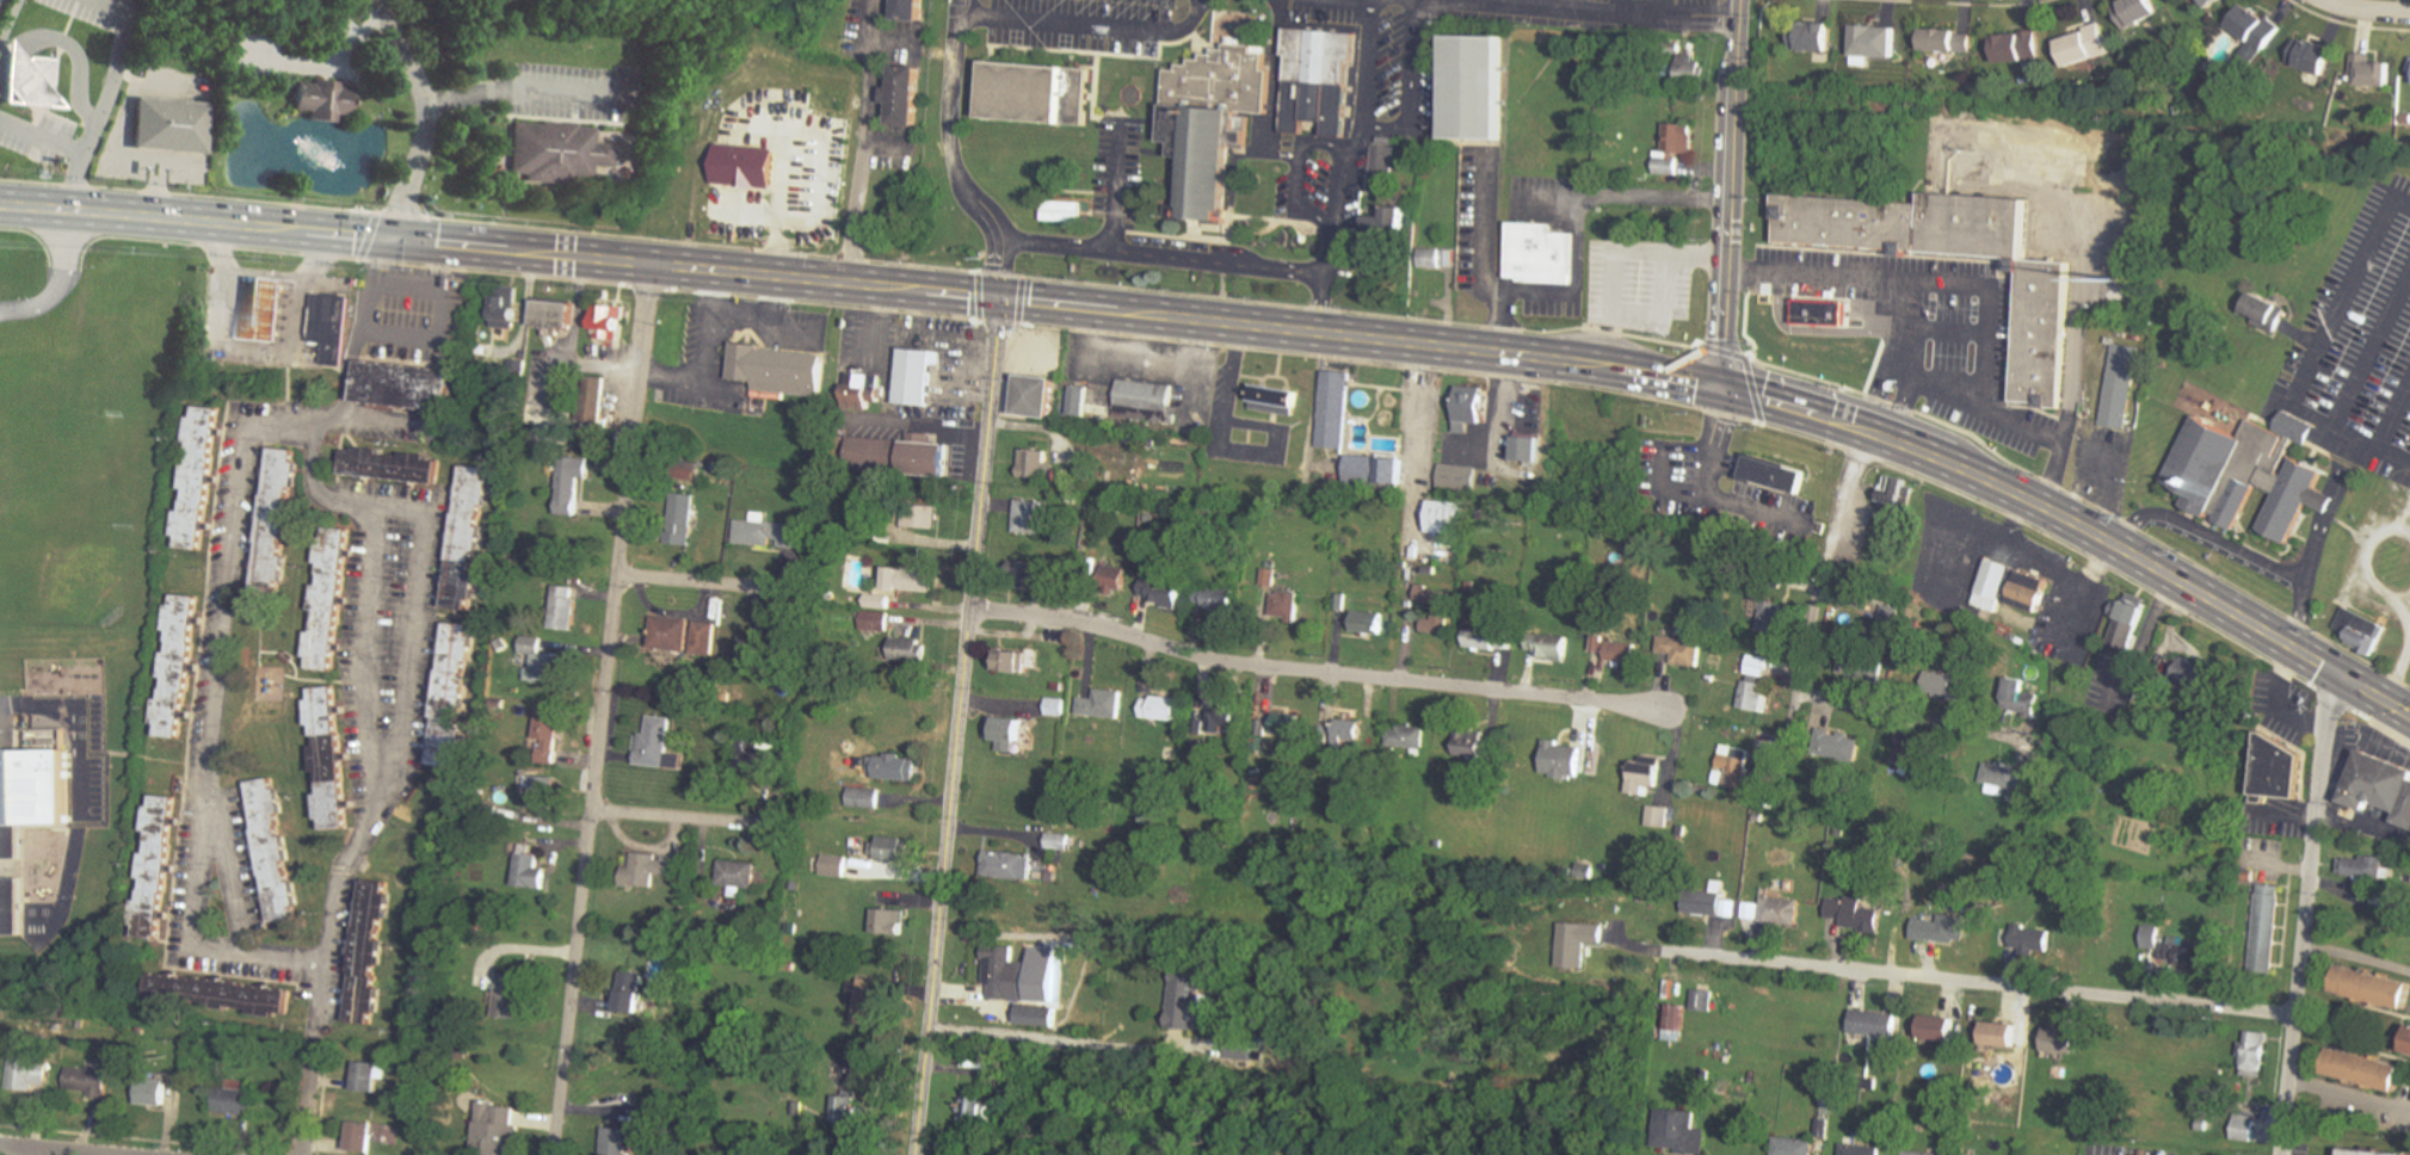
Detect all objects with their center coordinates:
road: (1295, 0)
building: (2215, 2)
road: (1343, 4)
road: (1547, 6)
road: (1679, 6)
building: (2140, 10)
building: (911, 11)
park: (966, 12)
road: (2366, 12)
road: (5, 13)
park: (1062, 19)
road: (1092, 27)
building: (2258, 30)
building: (1818, 36)
building: (1953, 39)
building: (2090, 44)
road: (1738, 45)
building: (2014, 47)
road: (70, 48)
building: (2317, 55)
road: (323, 62)
building: (1695, 69)
building: (2375, 69)
road: (1368, 73)
road: (1411, 84)
building: (27, 85)
road: (420, 85)
building: (1226, 85)
building: (1321, 85)
road: (510, 88)
building: (1477, 95)
road: (101, 97)
building: (322, 100)
building: (1038, 100)
building: (904, 101)
road: (954, 110)
building: (167, 129)
road: (41, 137)
road: (867, 141)
building: (1676, 147)
fountain: (313, 150)
road: (813, 152)
building: (556, 154)
building: (750, 165)
building: (1204, 165)
road: (1701, 167)
building: (1385, 168)
road: (1300, 177)
road: (1117, 191)
road: (1651, 196)
road: (1339, 205)
road: (400, 206)
road: (795, 212)
road: (400, 215)
building: (1062, 216)
road: (152, 218)
building: (1391, 222)
road: (347, 231)
road: (366, 235)
traffic signals: (389, 236)
road: (38, 240)
road: (1732, 240)
road: (66, 241)
road: (451, 241)
road: (1616, 251)
road: (790, 252)
road: (1003, 254)
building: (1540, 255)
road: (1485, 258)
road: (1165, 260)
road: (1984, 260)
road: (1577, 267)
road: (714, 268)
road: (2003, 276)
road: (1921, 282)
parking lot: (1640, 284)
road: (429, 290)
road: (957, 295)
road: (979, 296)
road: (1023, 299)
road: (41, 301)
traffic signals: (1001, 301)
road: (1060, 305)
road: (1326, 305)
building: (266, 309)
building: (507, 311)
building: (557, 314)
gas station: (264, 315)
building: (1820, 316)
road: (1221, 321)
building: (2270, 321)
building: (614, 322)
road: (1922, 328)
building: (329, 329)
parking lot: (1924, 329)
road: (1955, 332)
building: (2046, 334)
road: (431, 336)
parking lot: (2360, 336)
road: (355, 341)
road: (1209, 344)
road: (1469, 346)
road: (1724, 351)
road: (2373, 351)
road: (2319, 354)
road: (2077, 359)
building: (779, 373)
road: (1896, 375)
road: (1671, 376)
building: (919, 385)
traffic signals: (1727, 388)
building: (867, 389)
road: (1753, 389)
building: (2122, 389)
building: (403, 391)
building: (1282, 396)
road: (1769, 401)
building: (1037, 402)
road: (1878, 406)
road: (1905, 406)
building: (1474, 407)
road: (1984, 407)
building: (1126, 409)
building: (1332, 413)
road: (1720, 418)
road: (2396, 422)
road: (922, 424)
road: (1886, 438)
building: (1530, 449)
road: (1413, 457)
building: (899, 462)
building: (1036, 464)
parking lot: (2102, 464)
park: (2400, 470)
building: (1375, 471)
road: (1711, 471)
building: (389, 474)
building: (1770, 474)
building: (2249, 474)
building: (1460, 477)
building: (573, 482)
building: (197, 483)
road: (2087, 500)
building: (1898, 504)
building: (1448, 515)
building: (1030, 517)
building: (682, 520)
building: (276, 523)
building: (768, 532)
road: (2209, 533)
building: (466, 542)
road: (2319, 542)
park: (67, 549)
parking lot: (2220, 550)
road: (1826, 562)
road: (2367, 563)
building: (911, 579)
road: (709, 582)
road: (2187, 588)
building: (1287, 591)
building: (2010, 591)
building: (1164, 592)
building: (1218, 600)
building: (328, 605)
building: (565, 607)
building: (1437, 609)
building: (1773, 616)
building: (1372, 620)
building: (2129, 623)
building: (670, 634)
building: (703, 637)
building: (1491, 637)
building: (1558, 646)
building: (1619, 649)
building: (1683, 649)
building: (912, 650)
building: (1011, 661)
building: (544, 662)
building: (1758, 665)
building: (1868, 668)
building: (175, 672)
road: (1314, 672)
building: (2196, 674)
traffic signals: (2336, 674)
road: (2398, 681)
building: (1946, 684)
building: (1756, 697)
building: (2027, 697)
building: (448, 698)
building: (1104, 704)
building: (1056, 706)
road: (602, 708)
building: (1160, 708)
road: (2361, 716)
building: (1222, 717)
road: (1911, 718)
road: (75, 722)
road: (212, 723)
building: (1288, 723)
road: (959, 728)
building: (1351, 730)
building: (1009, 731)
building: (550, 736)
building: (1406, 736)
building: (658, 742)
road: (1783, 742)
building: (1477, 745)
building: (1847, 747)
building: (756, 756)
building: (1922, 756)
building: (1565, 759)
building: (328, 765)
building: (1738, 765)
road: (2409, 766)
building: (896, 767)
road: (380, 770)
building: (2279, 774)
building: (2004, 778)
building: (2381, 789)
building: (543, 791)
building: (865, 797)
building: (24, 810)
building: (1660, 816)
road: (682, 817)
road: (2363, 828)
building: (1060, 840)
building: (890, 848)
building: (272, 854)
building: (836, 865)
building: (1010, 865)
building: (2365, 866)
building: (653, 867)
building: (531, 869)
building: (152, 870)
building: (739, 873)
building: (1713, 901)
building: (2390, 906)
building: (1751, 910)
building: (1782, 910)
building: (1856, 914)
road: (2305, 914)
building: (890, 921)
building: (2264, 922)
building: (1944, 929)
building: (2033, 940)
building: (1580, 943)
building: (2178, 946)
building: (366, 956)
road: (2356, 956)
building: (1027, 975)
road: (1978, 983)
building: (2372, 987)
building: (630, 992)
building: (511, 997)
building: (217, 999)
building: (1188, 1000)
building: (1703, 1000)
building: (869, 1001)
building: (1675, 1021)
building: (1879, 1024)
building: (1940, 1027)
building: (2004, 1034)
road: (1044, 1038)
building: (2066, 1040)
building: (2408, 1040)
building: (2256, 1055)
building: (27, 1070)
building: (2363, 1070)
building: (368, 1074)
building: (1007, 1077)
building: (87, 1080)
building: (153, 1089)
road: (2349, 1094)
building: (232, 1098)
road: (322, 1099)
parking lot: (2352, 1099)
building: (975, 1108)
building: (851, 1111)
building: (803, 1112)
building: (620, 1119)
building: (495, 1126)
building: (2245, 1128)
building: (1681, 1131)
building: (359, 1135)
road: (143, 1139)
building: (617, 1141)
building: (1859, 1149)
road: (30, 1151)
building: (2362, 1153)

